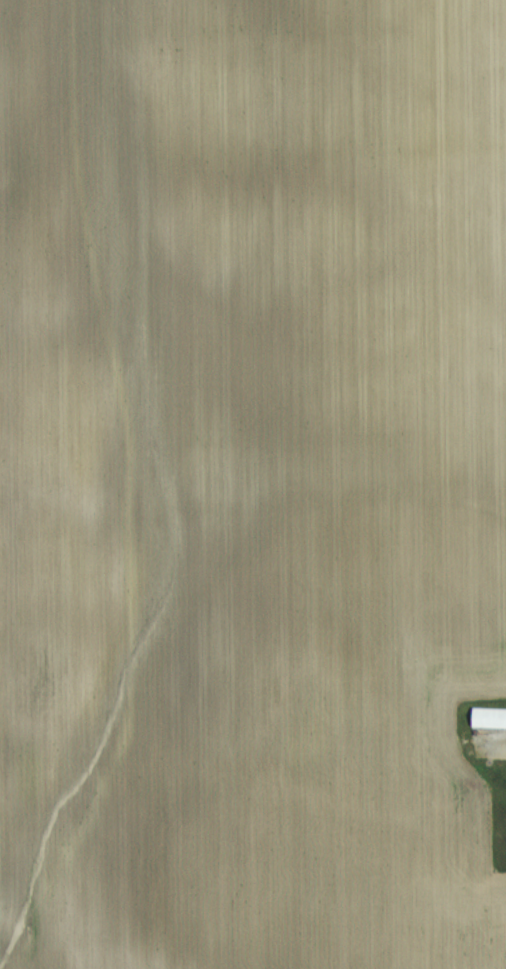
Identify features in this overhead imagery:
crop: (248, 479)
building: (490, 717)

